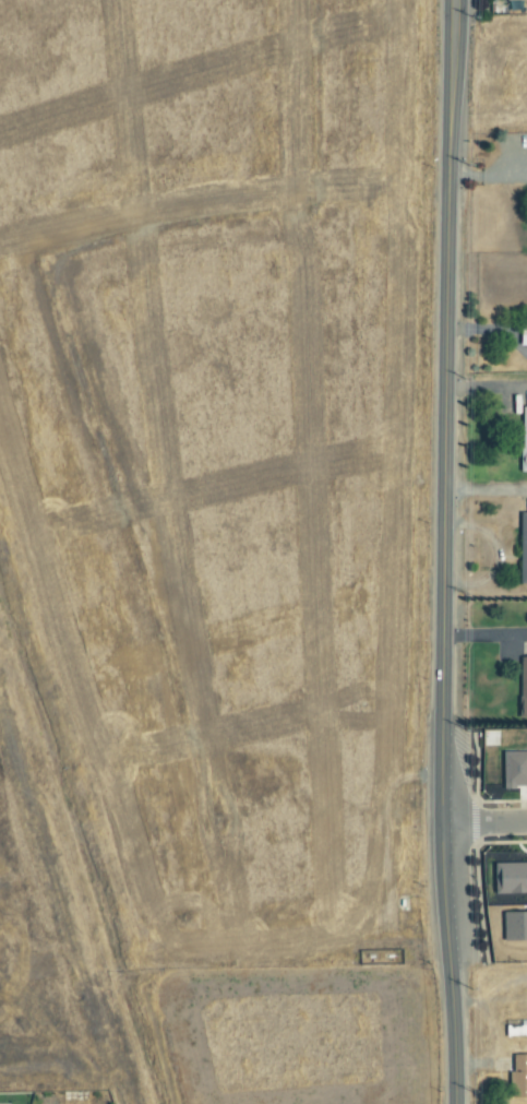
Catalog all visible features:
building: (510, 0)
building: (526, 331)
building: (523, 438)
road: (484, 490)
building: (523, 548)
road: (443, 551)
road: (484, 634)
building: (523, 687)
road: (483, 823)
building: (510, 877)
building: (518, 1077)

